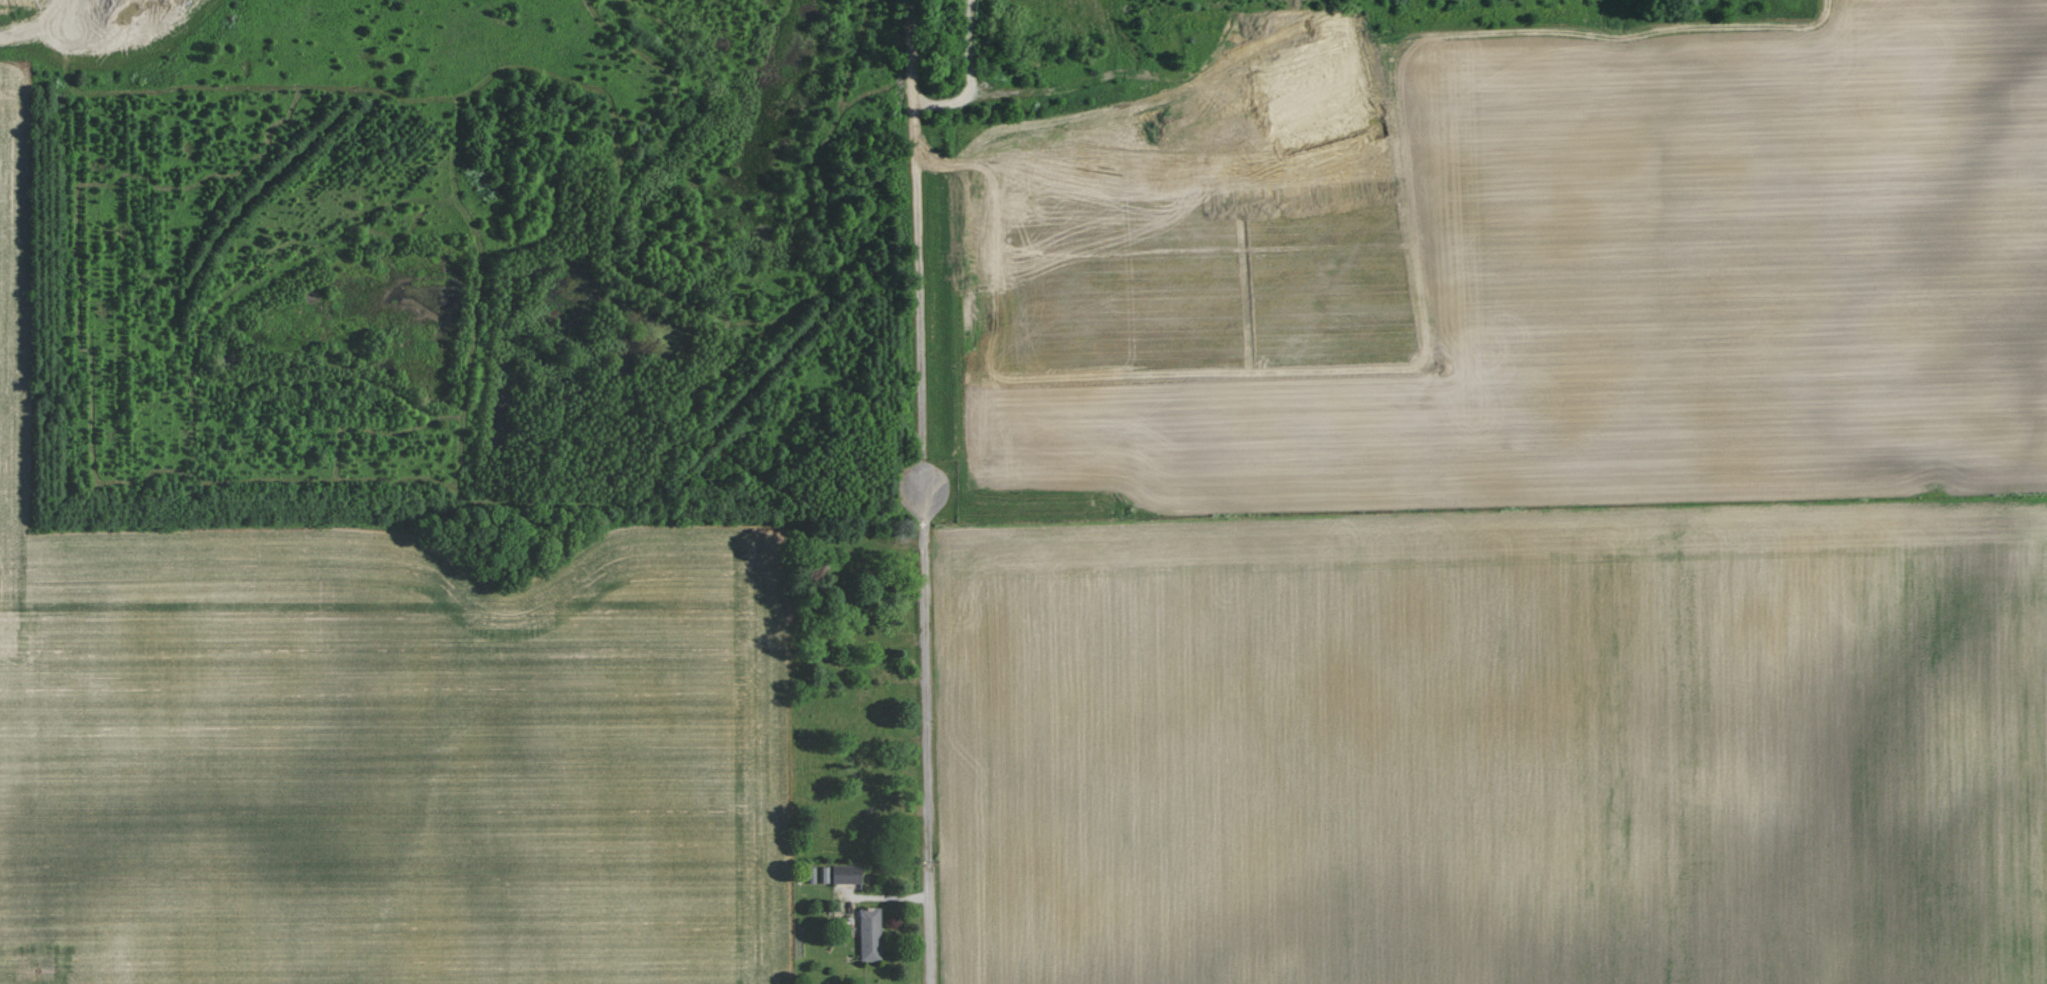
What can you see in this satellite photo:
road: (920, 491)
building: (848, 874)
building: (872, 934)

